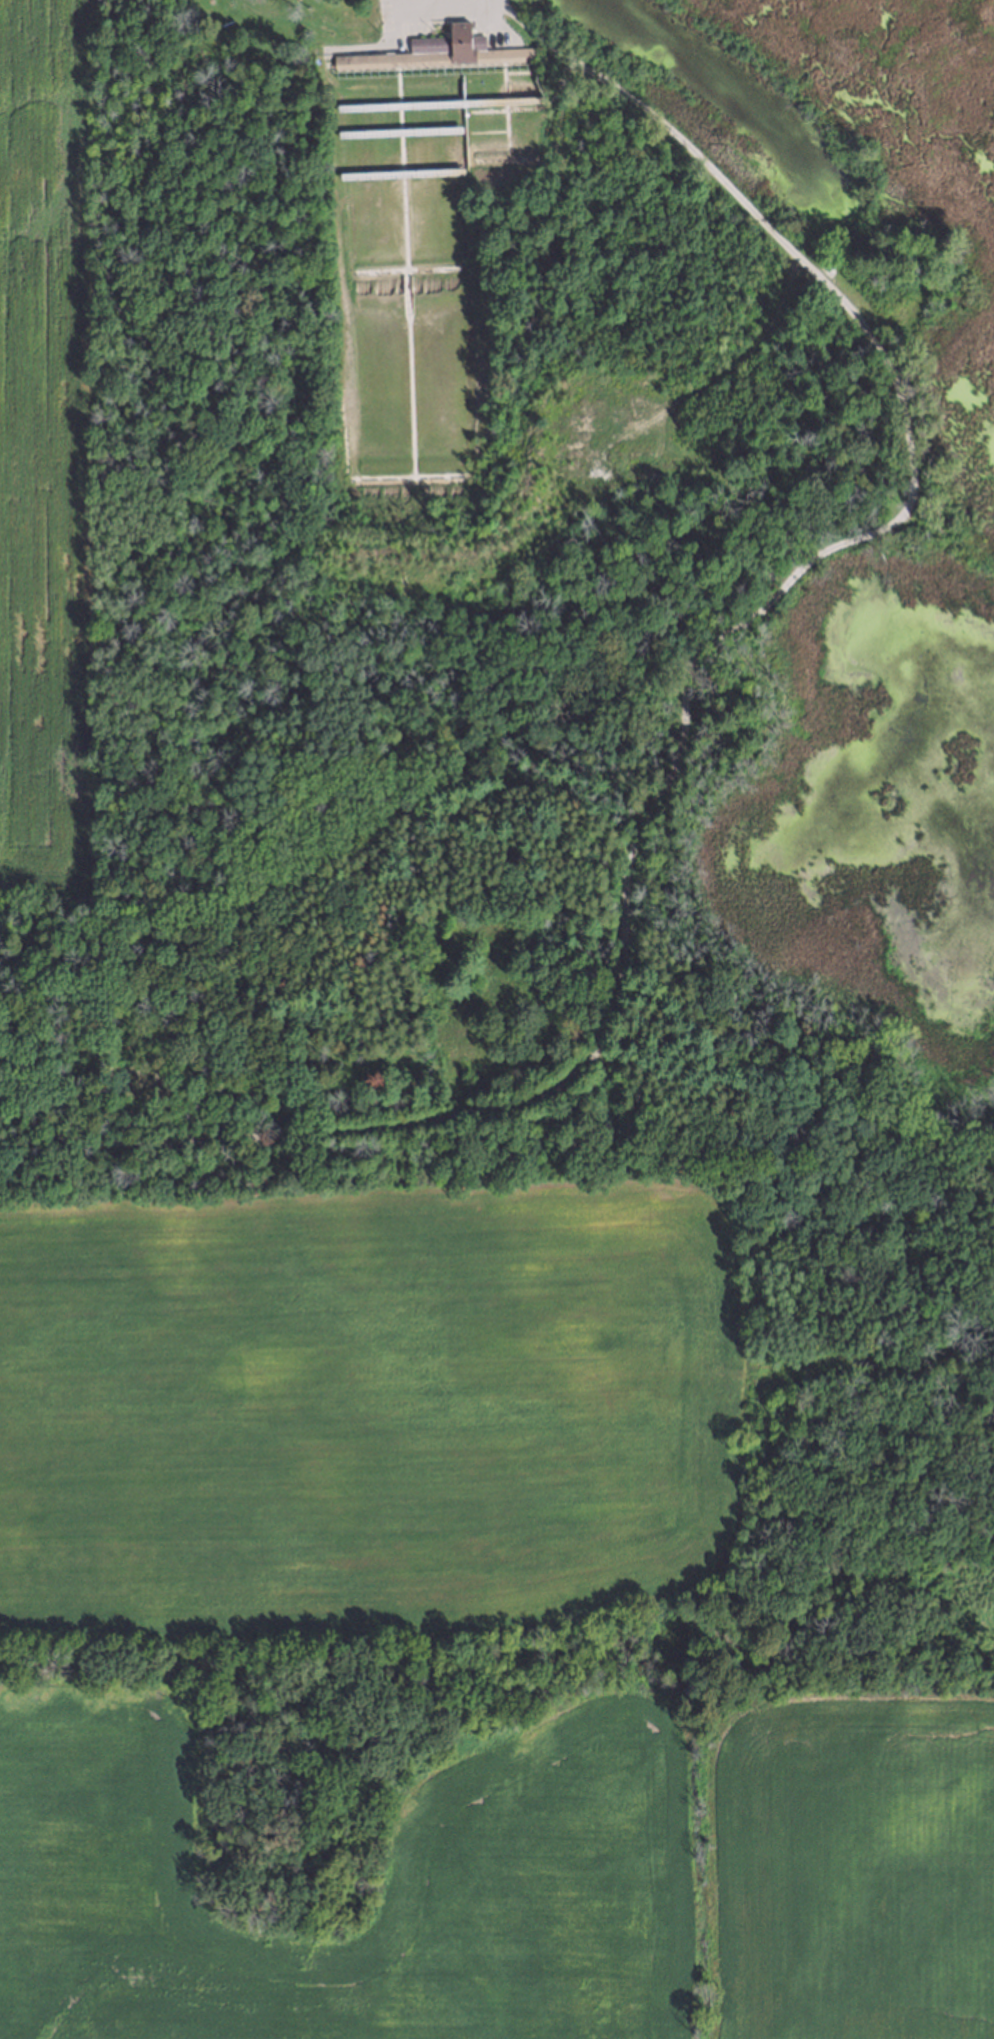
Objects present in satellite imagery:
building: (434, 51)
road: (688, 693)

